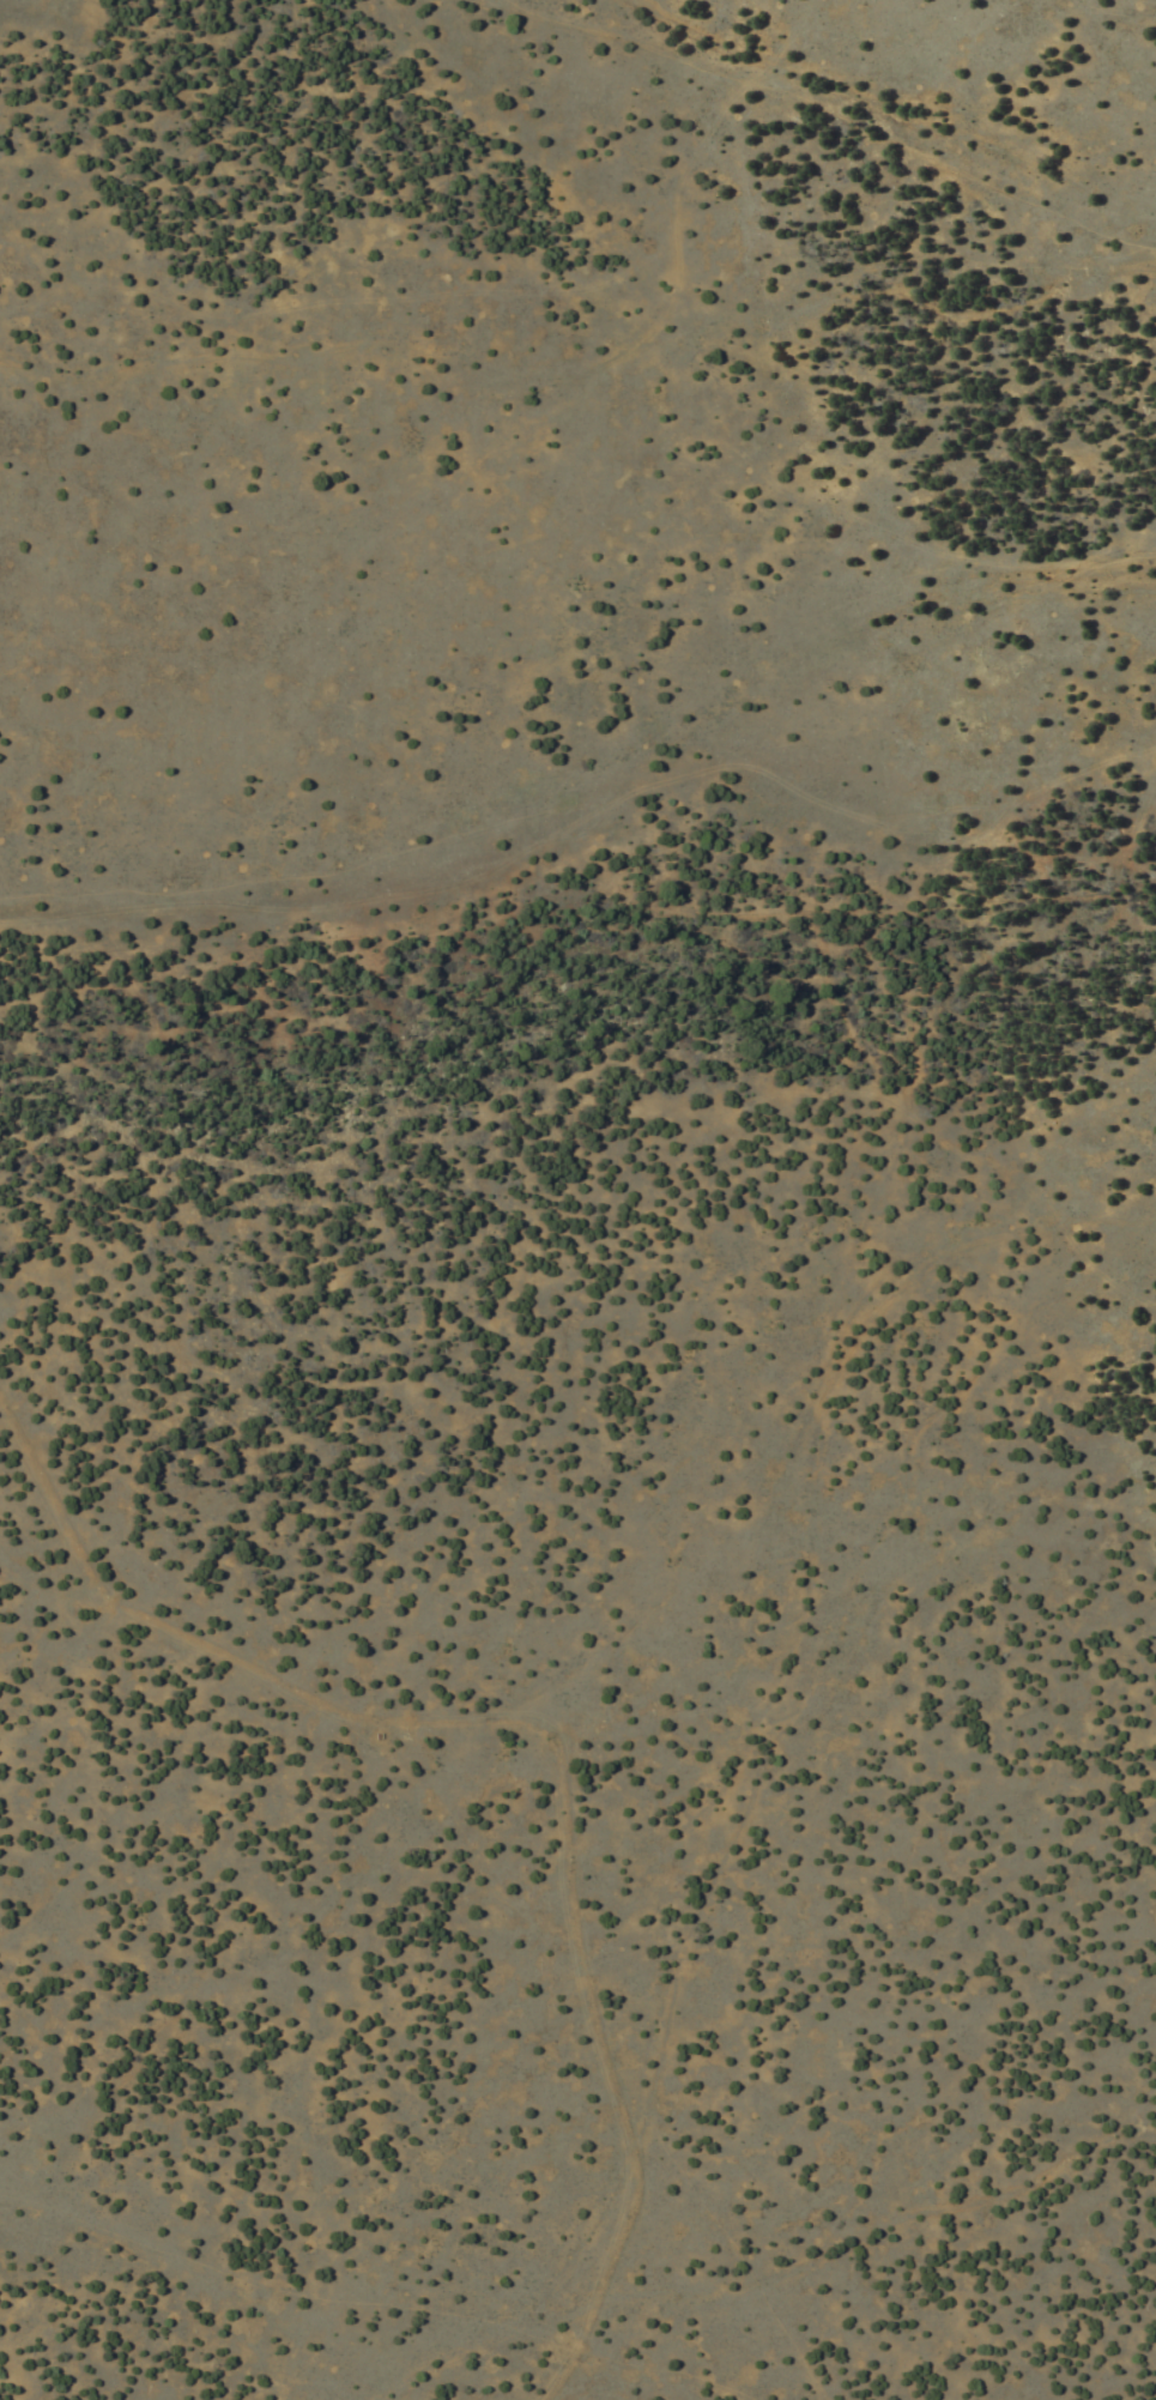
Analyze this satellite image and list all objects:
road: (919, 93)
road: (580, 322)

